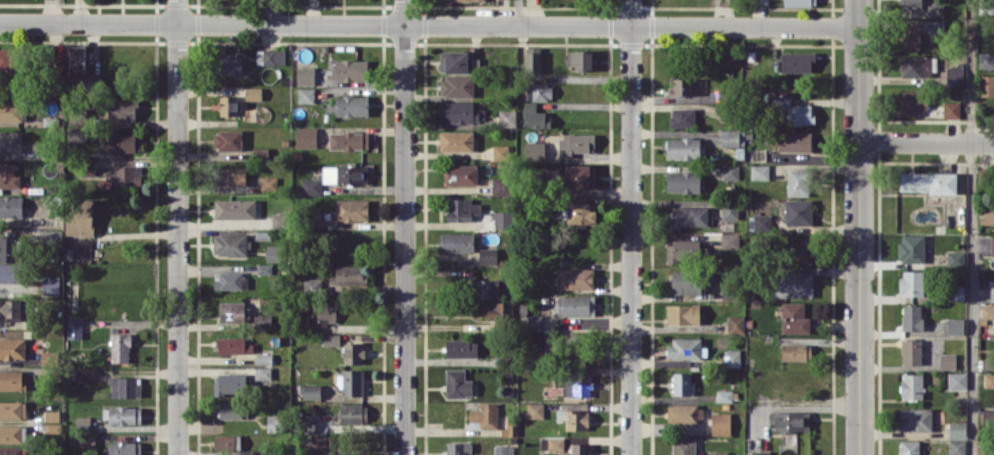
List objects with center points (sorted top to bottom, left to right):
building: (459, 0)
building: (761, 2)
building: (799, 3)
building: (911, 4)
road: (519, 12)
road: (430, 25)
building: (936, 26)
building: (909, 36)
building: (270, 56)
building: (6, 59)
building: (581, 59)
building: (533, 60)
building: (986, 60)
building: (78, 62)
building: (458, 62)
building: (797, 62)
building: (229, 65)
building: (914, 66)
building: (350, 69)
building: (305, 75)
building: (955, 75)
building: (456, 85)
building: (987, 85)
building: (684, 86)
building: (541, 91)
building: (253, 93)
building: (306, 94)
building: (912, 102)
building: (228, 105)
building: (352, 105)
building: (951, 109)
building: (122, 110)
building: (10, 112)
building: (461, 112)
building: (792, 112)
building: (535, 117)
building: (682, 117)
building: (507, 118)
building: (77, 135)
building: (306, 137)
building: (732, 137)
building: (227, 140)
building: (348, 140)
building: (456, 140)
building: (10, 141)
building: (124, 141)
building: (795, 141)
road: (926, 141)
building: (575, 144)
building: (684, 148)
building: (534, 151)
building: (500, 152)
building: (729, 171)
building: (759, 171)
building: (345, 174)
building: (461, 174)
building: (8, 175)
building: (125, 175)
building: (229, 175)
building: (580, 176)
building: (683, 181)
building: (798, 182)
building: (928, 182)
building: (268, 183)
building: (311, 186)
building: (501, 186)
building: (11, 206)
building: (235, 208)
building: (462, 209)
building: (352, 210)
building: (729, 211)
building: (798, 211)
building: (579, 213)
building: (989, 215)
building: (688, 216)
building: (79, 217)
building: (501, 219)
building: (762, 221)
road: (178, 227)
road: (405, 227)
road: (631, 227)
road: (859, 227)
road: (972, 227)
building: (730, 240)
building: (457, 242)
building: (230, 244)
building: (992, 246)
building: (7, 248)
building: (911, 248)
building: (683, 250)
building: (795, 250)
building: (273, 252)
building: (487, 256)
building: (956, 258)
building: (9, 272)
building: (350, 274)
building: (575, 278)
building: (227, 280)
building: (686, 282)
building: (912, 283)
building: (792, 284)
building: (51, 286)
building: (484, 288)
building: (991, 293)
building: (576, 305)
building: (10, 308)
building: (503, 308)
building: (233, 311)
building: (324, 313)
building: (683, 314)
building: (794, 317)
building: (912, 317)
building: (262, 322)
building: (533, 323)
building: (735, 324)
building: (956, 326)
building: (74, 328)
building: (331, 339)
building: (234, 345)
building: (12, 347)
building: (120, 347)
building: (461, 348)
building: (685, 348)
building: (796, 351)
building: (911, 351)
building: (353, 352)
building: (48, 357)
building: (264, 358)
building: (732, 358)
building: (948, 361)
building: (82, 373)
building: (262, 373)
building: (12, 380)
building: (957, 380)
building: (989, 380)
building: (230, 383)
building: (351, 383)
building: (458, 383)
building: (574, 384)
building: (682, 384)
building: (124, 386)
building: (911, 386)
building: (310, 391)
building: (724, 395)
building: (13, 409)
building: (233, 410)
building: (353, 413)
building: (122, 414)
building: (684, 414)
building: (52, 415)
building: (484, 416)
building: (987, 417)
building: (915, 419)
building: (577, 420)
building: (791, 421)
building: (83, 422)
building: (273, 423)
building: (308, 423)
building: (721, 423)
building: (957, 429)
building: (13, 433)
building: (320, 441)
building: (227, 442)
building: (552, 443)
building: (683, 446)
building: (909, 447)
building: (957, 447)
building: (123, 448)
building: (458, 448)
building: (986, 448)
building: (579, 449)
building: (12, 450)
building: (502, 450)
building: (258, 452)
building: (760, 452)
building: (717, 453)

